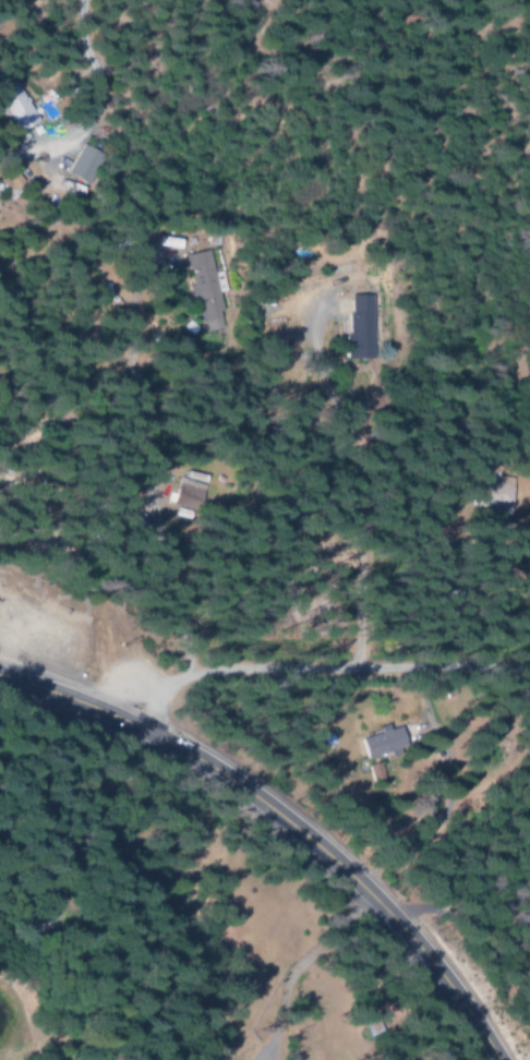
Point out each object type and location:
building: (12, 107)
building: (79, 164)
building: (201, 284)
building: (356, 328)
road: (140, 453)
road: (354, 479)
building: (188, 483)
building: (489, 497)
road: (322, 670)
building: (377, 744)
building: (377, 778)
road: (284, 821)

